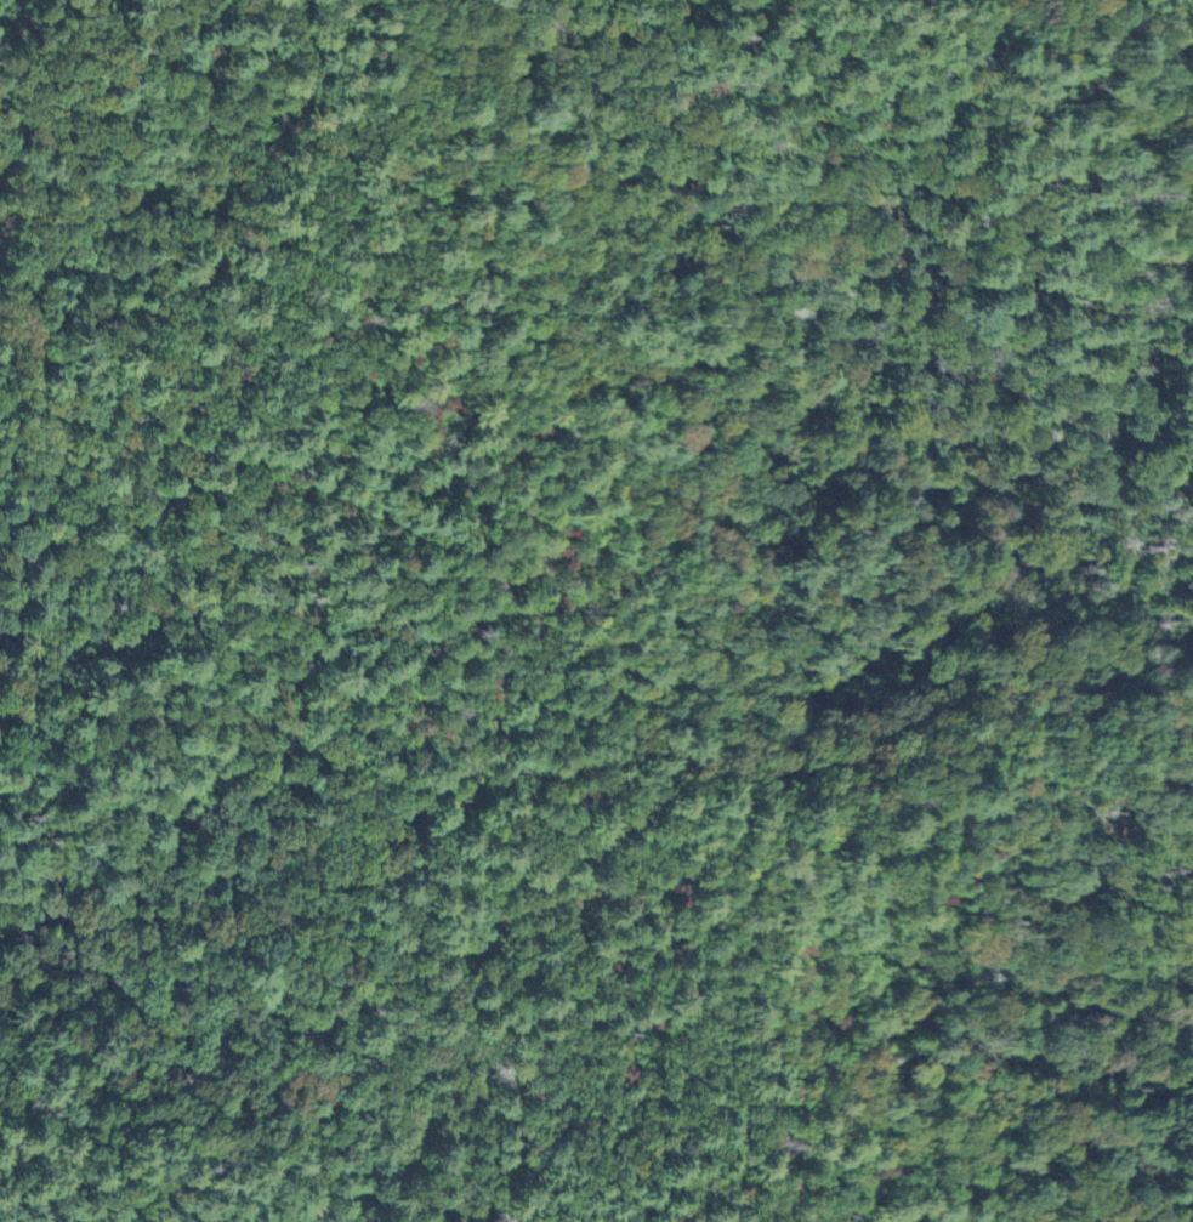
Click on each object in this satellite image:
road: (808, 109)
road: (391, 289)

